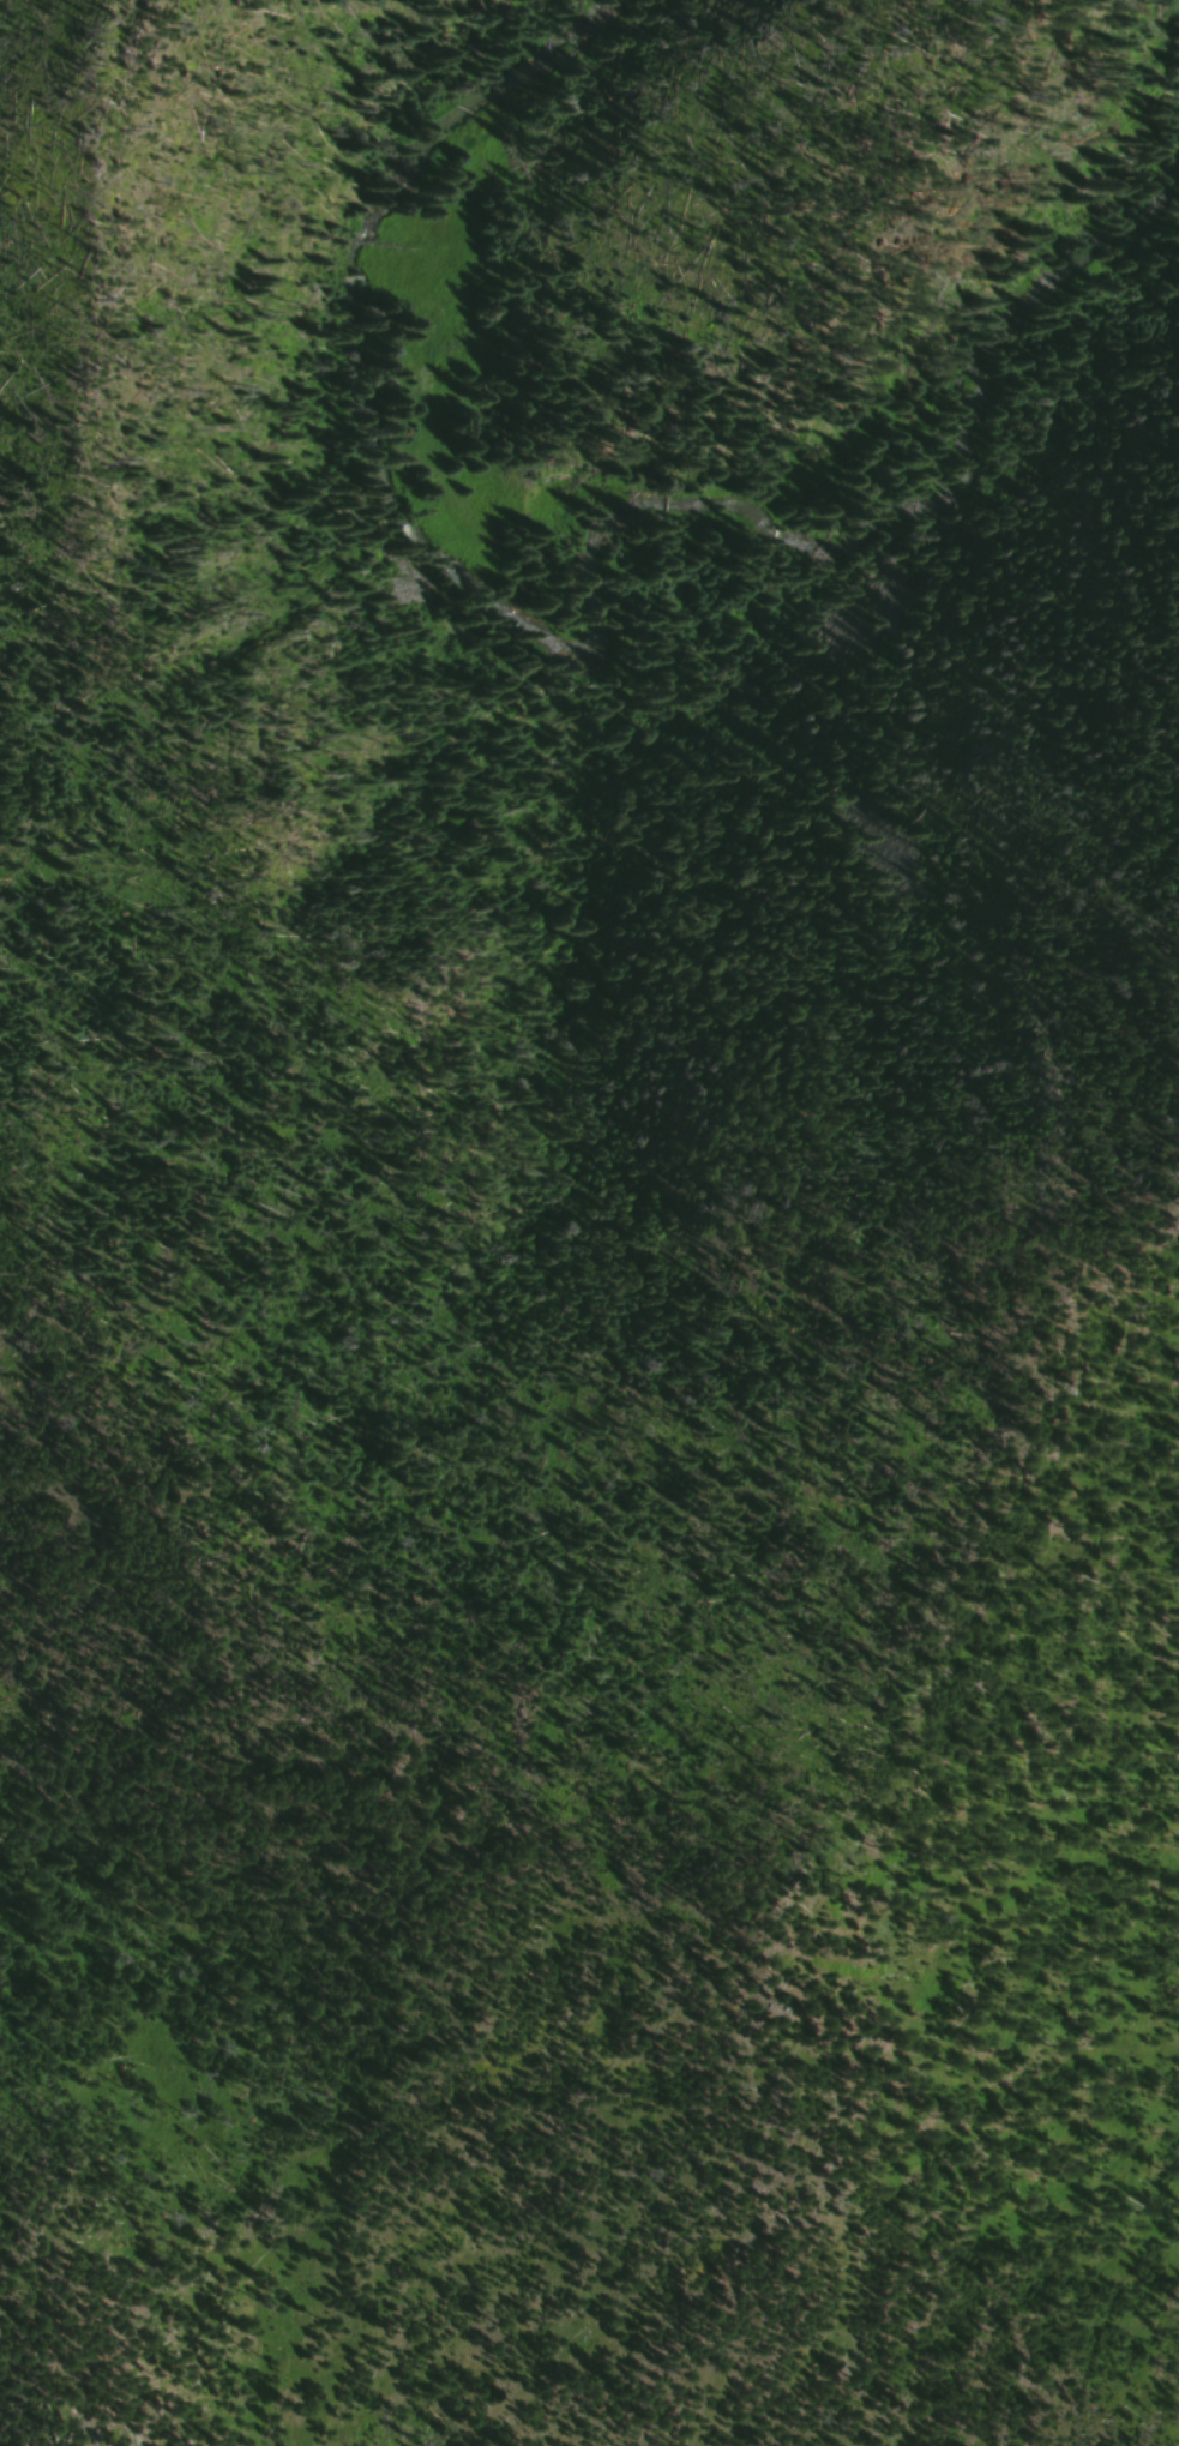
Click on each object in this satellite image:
river: (598, 625)

